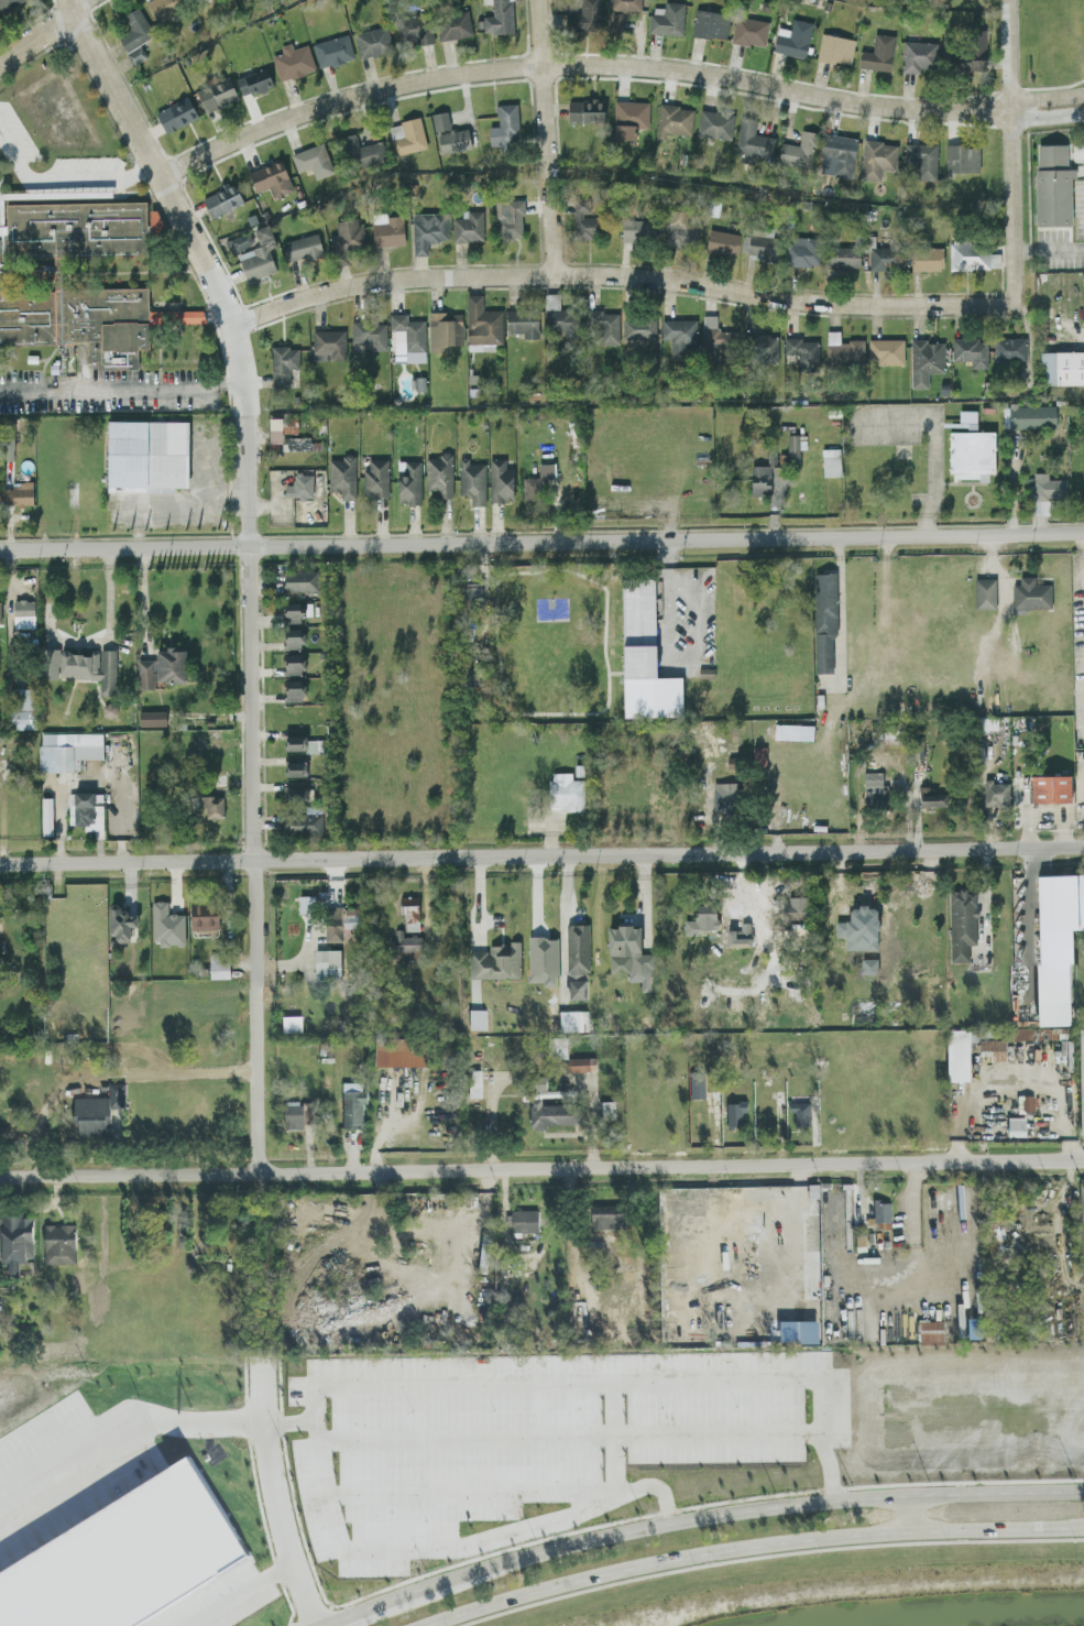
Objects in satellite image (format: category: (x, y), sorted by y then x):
building: (196, 0)
building: (900, 0)
building: (7, 4)
building: (163, 7)
building: (620, 11)
building: (499, 17)
building: (585, 17)
building: (666, 18)
building: (710, 23)
building: (453, 24)
road: (43, 29)
building: (414, 29)
building: (748, 30)
building: (134, 34)
building: (792, 37)
building: (372, 41)
building: (835, 48)
road: (42, 50)
building: (332, 50)
building: (972, 51)
building: (877, 53)
building: (918, 55)
building: (292, 61)
road: (612, 64)
building: (254, 80)
building: (217, 94)
building: (585, 109)
building: (175, 112)
building: (628, 117)
building: (672, 119)
building: (714, 123)
building: (504, 126)
building: (448, 133)
building: (407, 135)
road: (543, 137)
building: (752, 140)
building: (798, 150)
building: (363, 151)
road: (1009, 151)
building: (837, 153)
building: (961, 156)
building: (876, 157)
building: (921, 157)
building: (311, 160)
building: (271, 178)
road: (65, 179)
building: (1052, 184)
building: (221, 199)
building: (583, 217)
building: (508, 218)
building: (468, 225)
building: (680, 228)
building: (387, 229)
building: (427, 229)
building: (637, 229)
building: (346, 238)
building: (239, 241)
building: (722, 241)
building: (302, 247)
building: (763, 247)
road: (1048, 250)
building: (802, 251)
building: (258, 254)
building: (843, 255)
building: (878, 255)
building: (972, 255)
building: (926, 258)
building: (57, 271)
road: (618, 273)
building: (190, 315)
building: (561, 320)
building: (523, 321)
building: (482, 324)
building: (603, 324)
building: (638, 326)
building: (444, 329)
road: (1073, 330)
building: (678, 332)
building: (715, 332)
building: (368, 335)
building: (406, 338)
building: (328, 343)
building: (760, 348)
building: (842, 349)
building: (1011, 349)
building: (885, 350)
building: (970, 350)
building: (802, 351)
building: (923, 360)
building: (282, 363)
building: (1062, 368)
road: (122, 392)
building: (1031, 415)
building: (966, 418)
building: (286, 433)
building: (793, 447)
building: (147, 454)
building: (971, 454)
building: (830, 460)
building: (439, 473)
building: (342, 474)
building: (375, 478)
building: (759, 479)
building: (472, 480)
building: (500, 480)
building: (408, 481)
building: (536, 481)
road: (1012, 483)
building: (299, 485)
building: (1048, 485)
road: (227, 493)
road: (204, 504)
road: (541, 538)
road: (666, 561)
road: (252, 566)
building: (300, 579)
building: (472, 592)
building: (984, 592)
building: (1030, 593)
road: (840, 609)
building: (293, 611)
building: (23, 612)
building: (0, 614)
building: (824, 621)
building: (292, 637)
building: (51, 655)
building: (643, 655)
road: (698, 656)
building: (293, 663)
building: (171, 664)
building: (90, 666)
building: (145, 673)
building: (293, 689)
building: (22, 707)
building: (152, 717)
building: (792, 730)
building: (294, 742)
building: (313, 744)
building: (66, 749)
building: (758, 755)
building: (296, 766)
road: (96, 767)
building: (873, 787)
building: (1050, 787)
building: (296, 788)
building: (566, 790)
building: (995, 793)
building: (930, 796)
building: (723, 797)
building: (211, 805)
building: (85, 808)
road: (3, 814)
building: (45, 815)
building: (303, 820)
road: (541, 853)
building: (306, 903)
building: (797, 906)
building: (410, 913)
building: (204, 915)
building: (702, 918)
building: (339, 919)
building: (120, 921)
building: (961, 923)
building: (166, 924)
road: (562, 925)
building: (737, 935)
building: (405, 942)
building: (1058, 943)
building: (631, 953)
building: (543, 960)
building: (578, 961)
building: (495, 962)
building: (326, 963)
building: (218, 964)
building: (479, 1021)
building: (570, 1022)
building: (293, 1025)
building: (1026, 1036)
building: (994, 1051)
building: (403, 1054)
building: (582, 1066)
building: (1082, 1073)
road: (1014, 1082)
building: (477, 1085)
building: (699, 1085)
building: (354, 1106)
building: (609, 1111)
building: (99, 1112)
building: (556, 1115)
building: (737, 1115)
building: (802, 1115)
building: (298, 1116)
building: (1018, 1128)
road: (671, 1166)
road: (130, 1175)
building: (884, 1212)
building: (1083, 1215)
building: (609, 1219)
building: (526, 1222)
building: (812, 1233)
building: (17, 1241)
building: (61, 1245)
road: (863, 1291)
building: (932, 1334)
road: (484, 1384)
road: (121, 1422)
road: (615, 1440)
road: (745, 1514)
road: (908, 1514)
road: (458, 1548)
road: (755, 1549)
building: (125, 1561)
road: (241, 1593)
road: (372, 1609)

